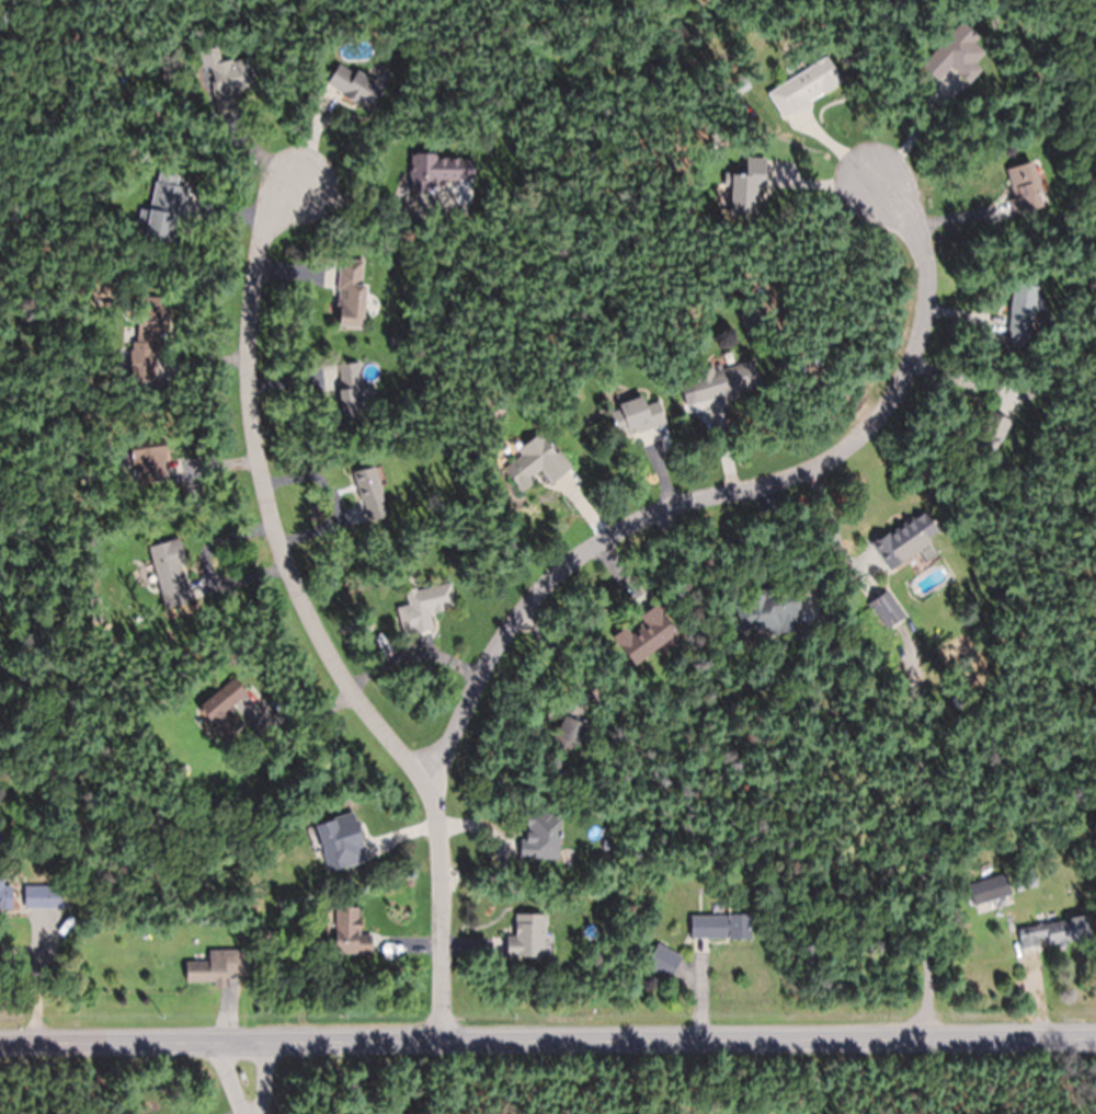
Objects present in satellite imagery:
building: (956, 55)
building: (231, 81)
building: (355, 84)
building: (803, 87)
building: (431, 170)
building: (1024, 187)
building: (745, 188)
building: (163, 209)
building: (351, 291)
building: (1020, 317)
building: (151, 318)
building: (722, 382)
building: (350, 391)
building: (631, 416)
building: (986, 439)
building: (148, 462)
building: (534, 462)
building: (369, 494)
road: (728, 495)
road: (267, 502)
building: (905, 540)
building: (170, 573)
building: (423, 608)
building: (886, 610)
building: (768, 611)
building: (652, 633)
building: (225, 711)
building: (567, 732)
building: (540, 837)
building: (330, 847)
building: (989, 889)
building: (4, 897)
building: (36, 897)
road: (436, 916)
building: (719, 928)
building: (347, 932)
building: (1053, 934)
building: (526, 938)
building: (663, 961)
building: (216, 967)
road: (768, 1041)
road: (220, 1045)
road: (236, 1079)

